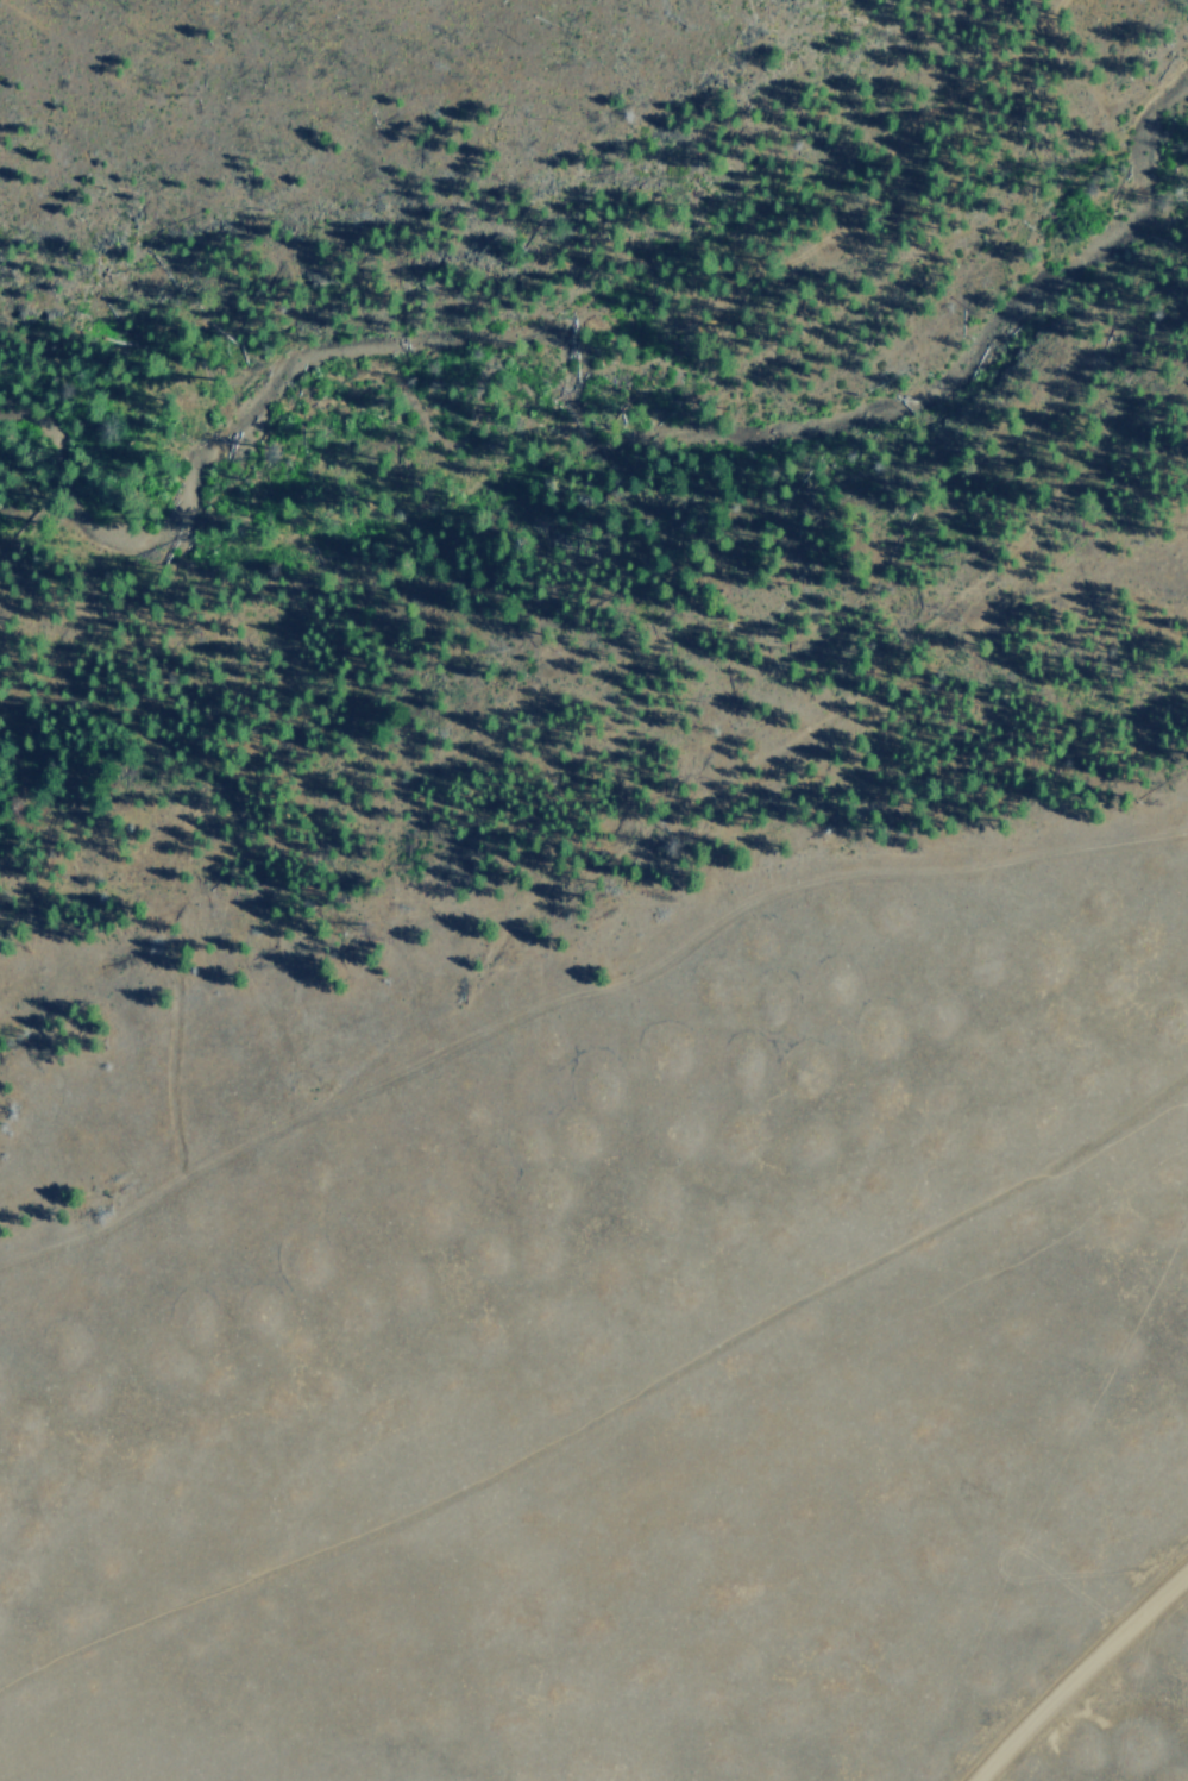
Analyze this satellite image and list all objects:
road: (1056, 1660)

